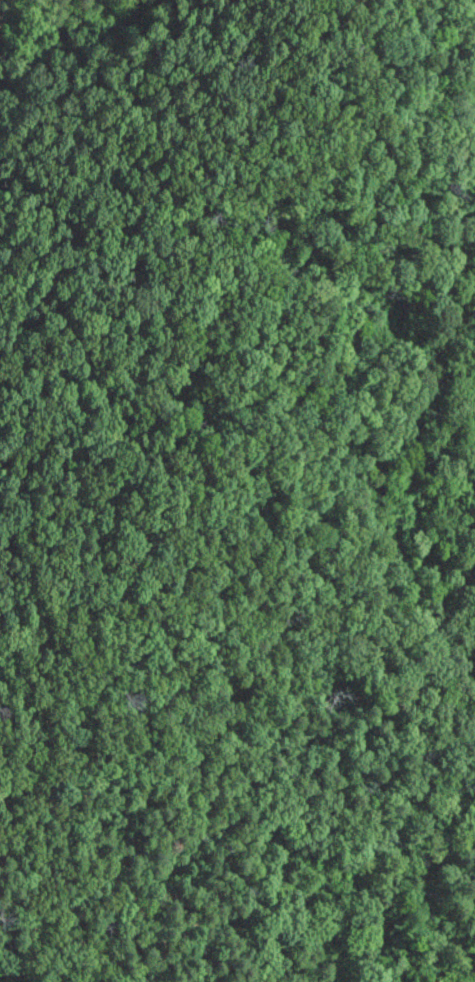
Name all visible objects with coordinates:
road: (10, 13)

